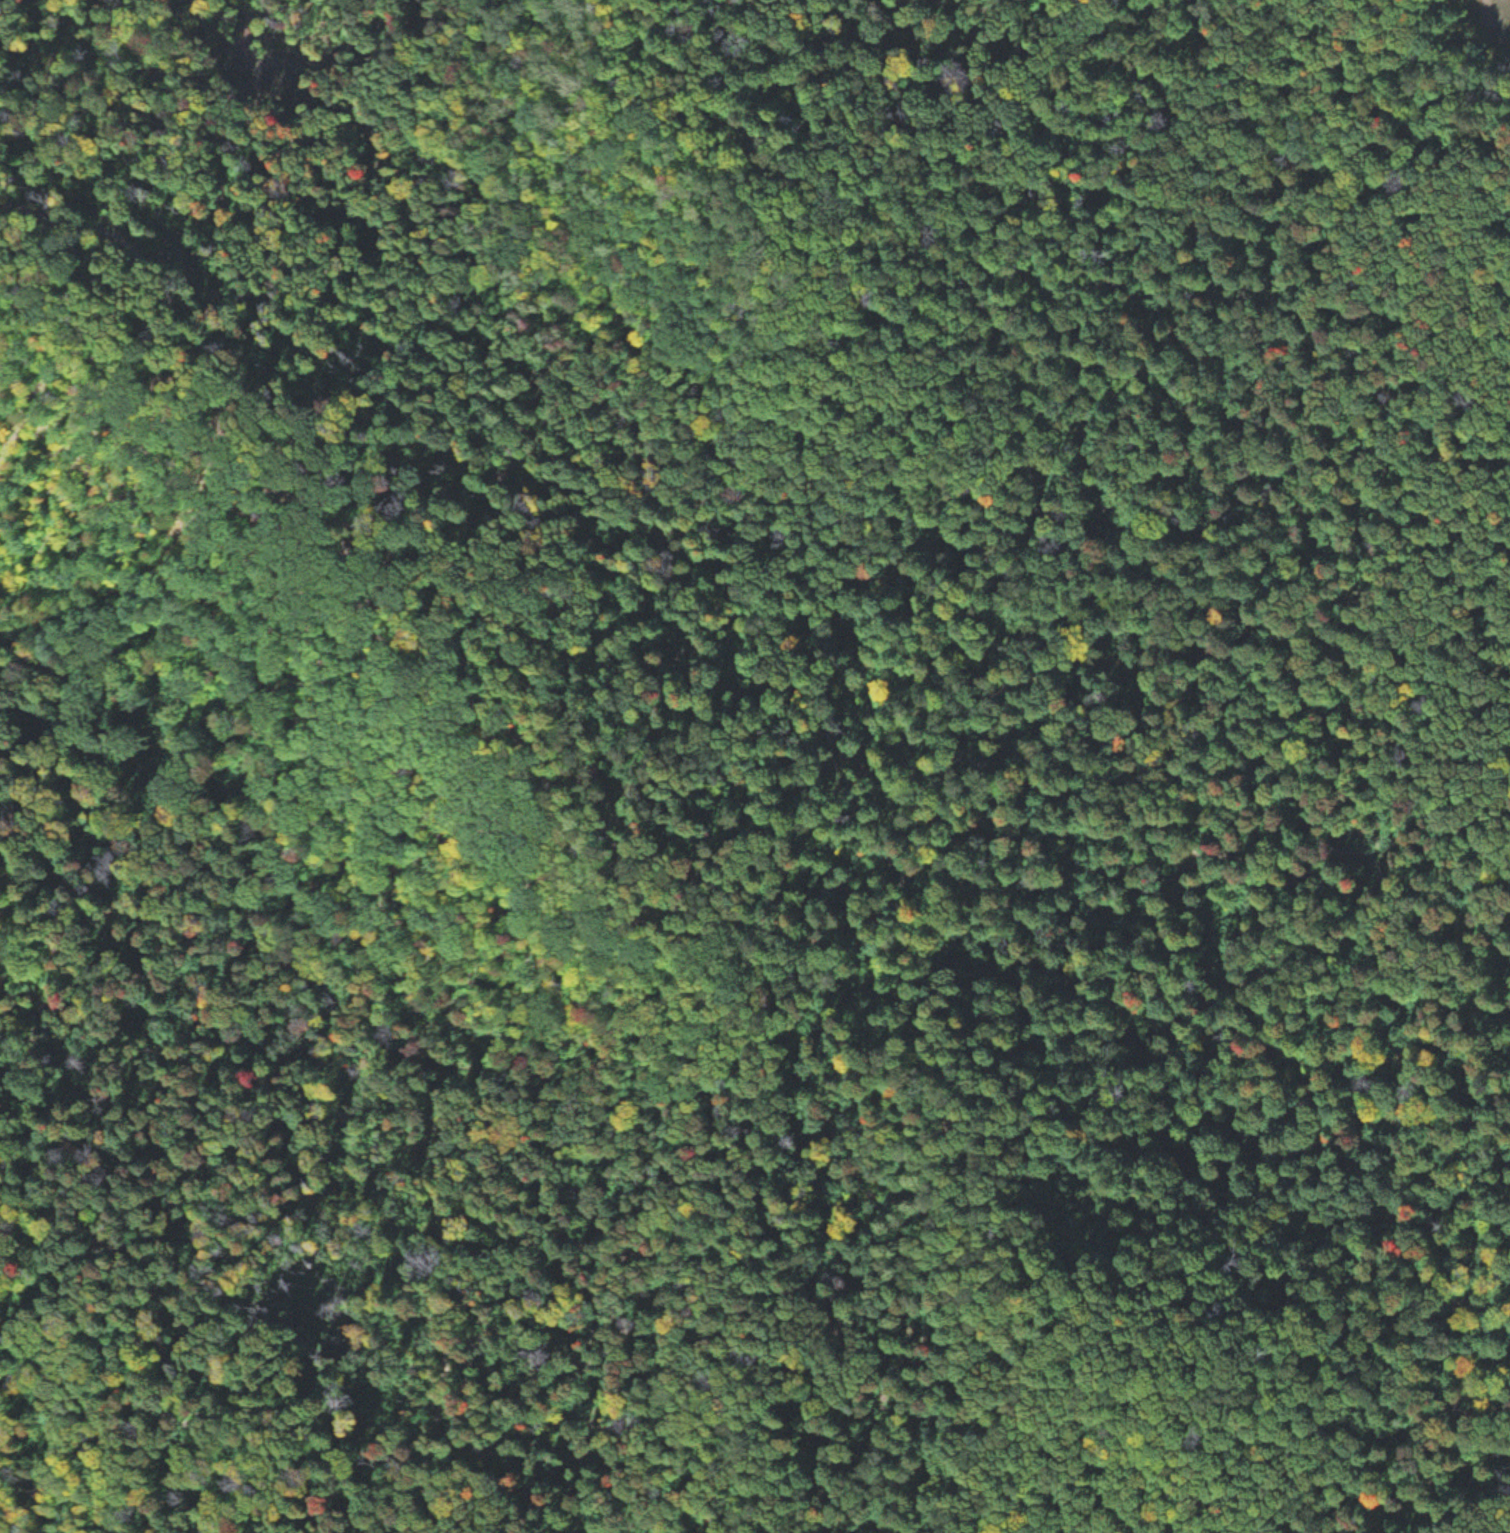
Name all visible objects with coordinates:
road: (51, 607)
road: (59, 674)
road: (499, 921)
road: (510, 1366)
road: (175, 1389)
road: (3, 1495)

